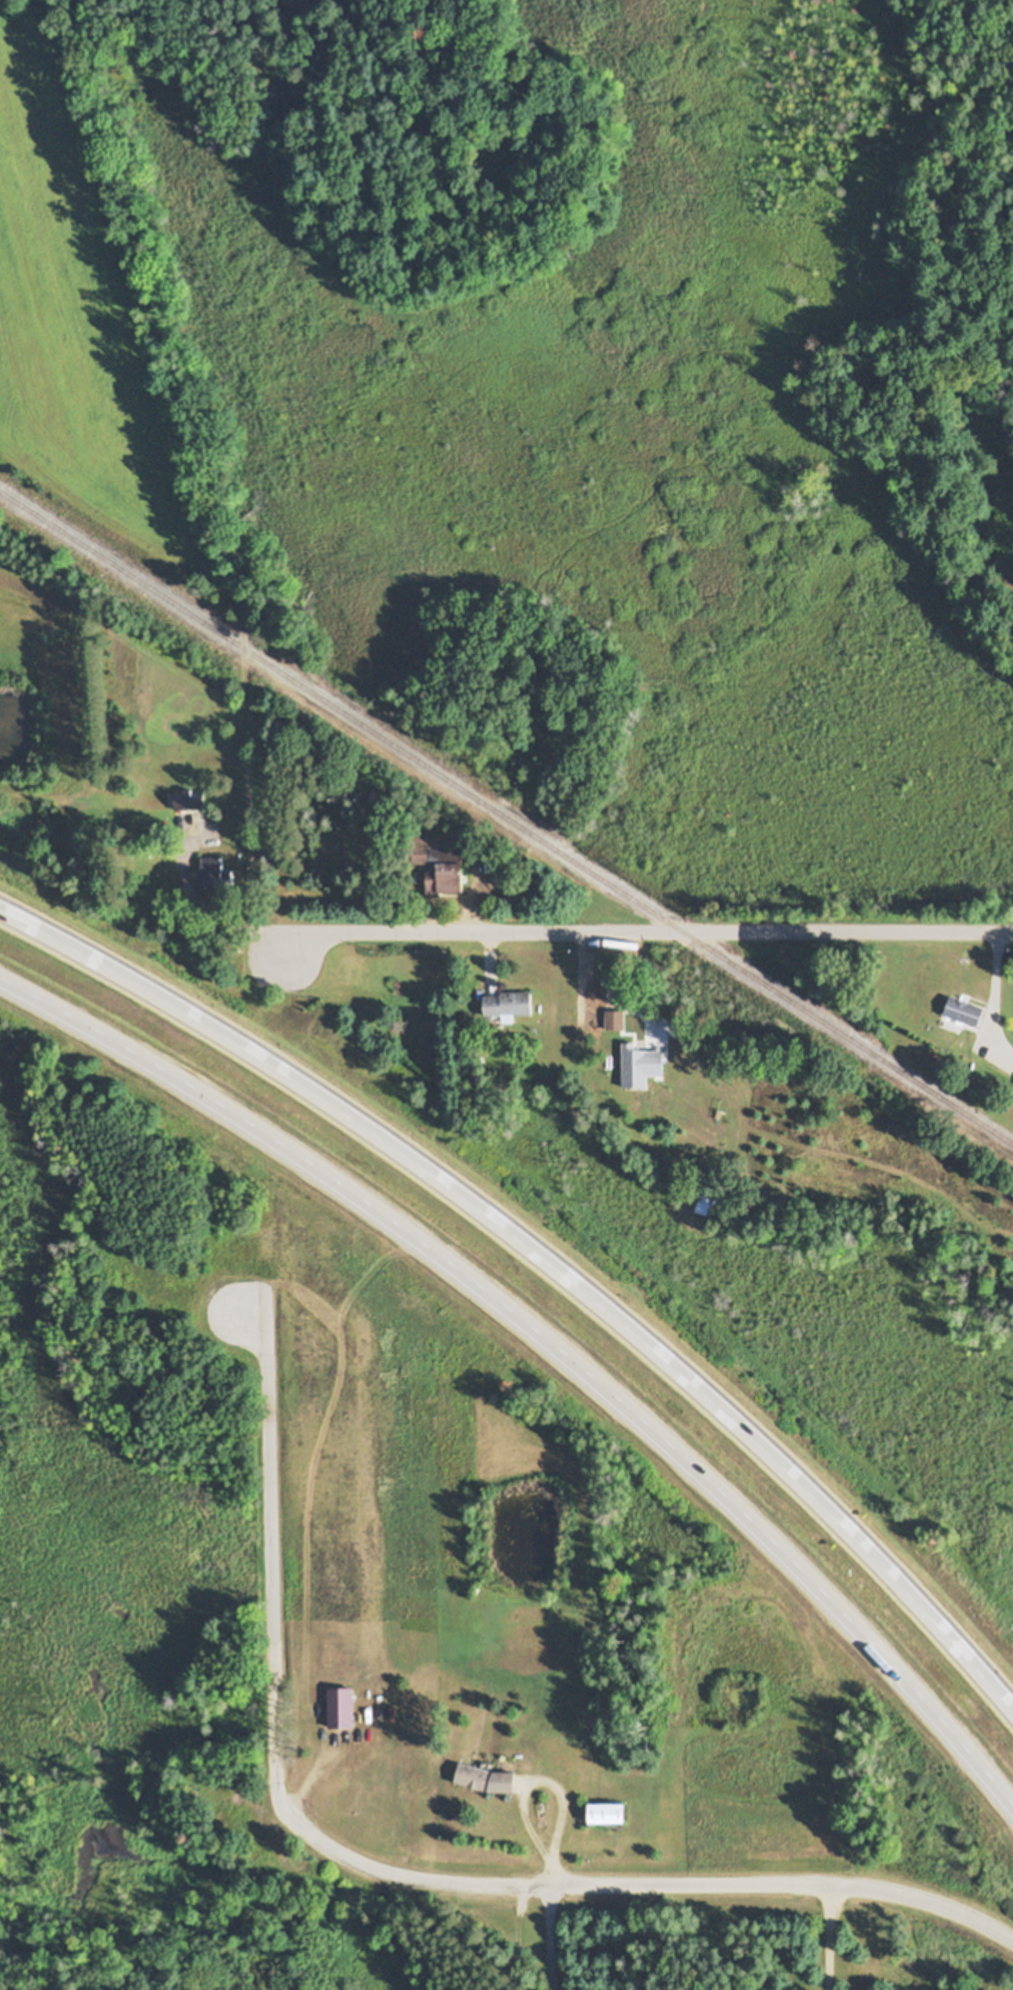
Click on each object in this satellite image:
building: (189, 798)
railway: (505, 817)
building: (447, 873)
road: (643, 931)
road: (602, 989)
road: (987, 1000)
building: (509, 1005)
building: (966, 1010)
building: (616, 1019)
road: (546, 1258)
road: (548, 1341)
building: (343, 1708)
building: (488, 1779)
road: (520, 1780)
building: (610, 1814)
road: (392, 1870)
road: (823, 1936)
road: (550, 1938)

